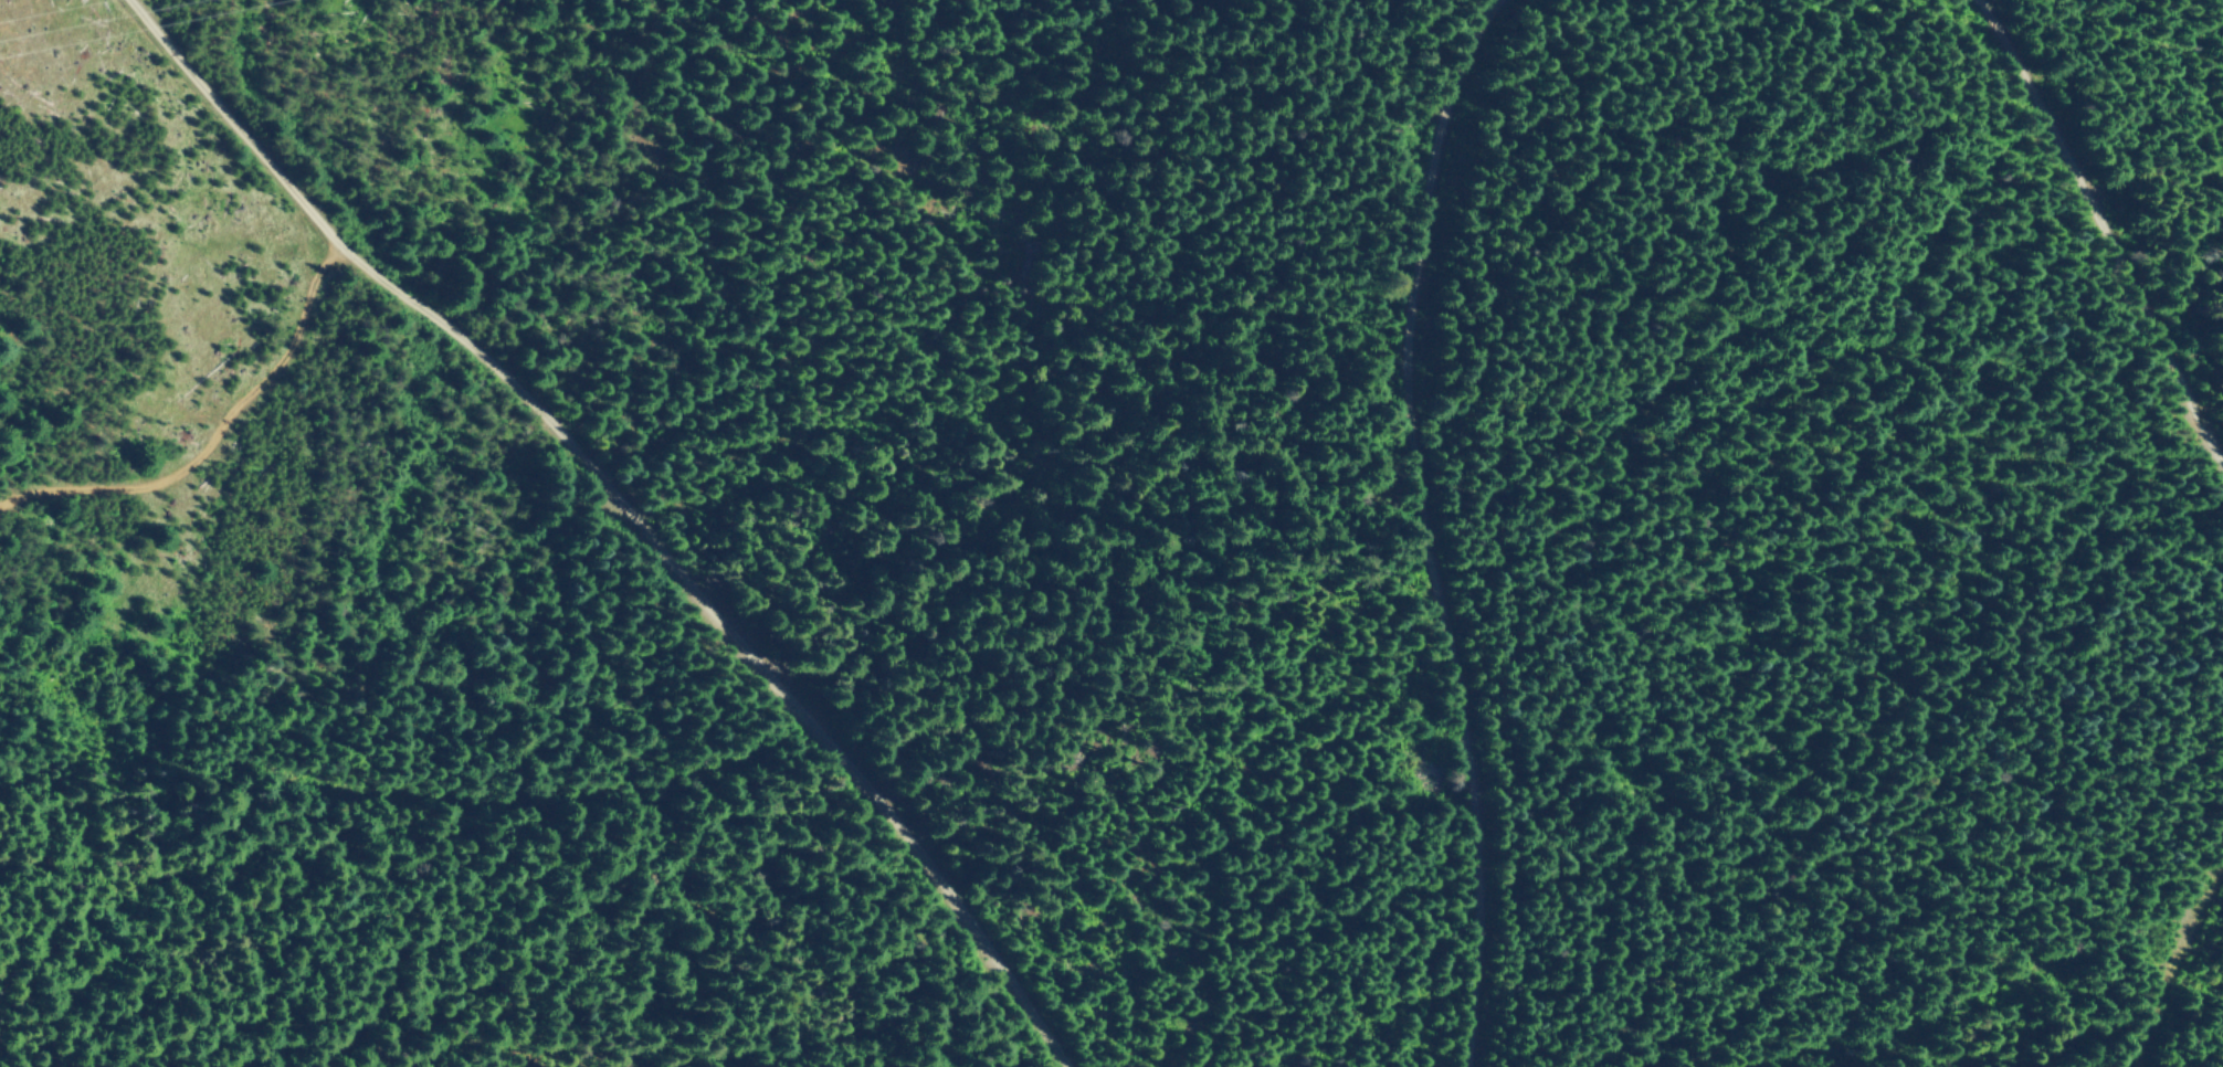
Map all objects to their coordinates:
road: (2098, 226)
road: (625, 509)
road: (1421, 527)

